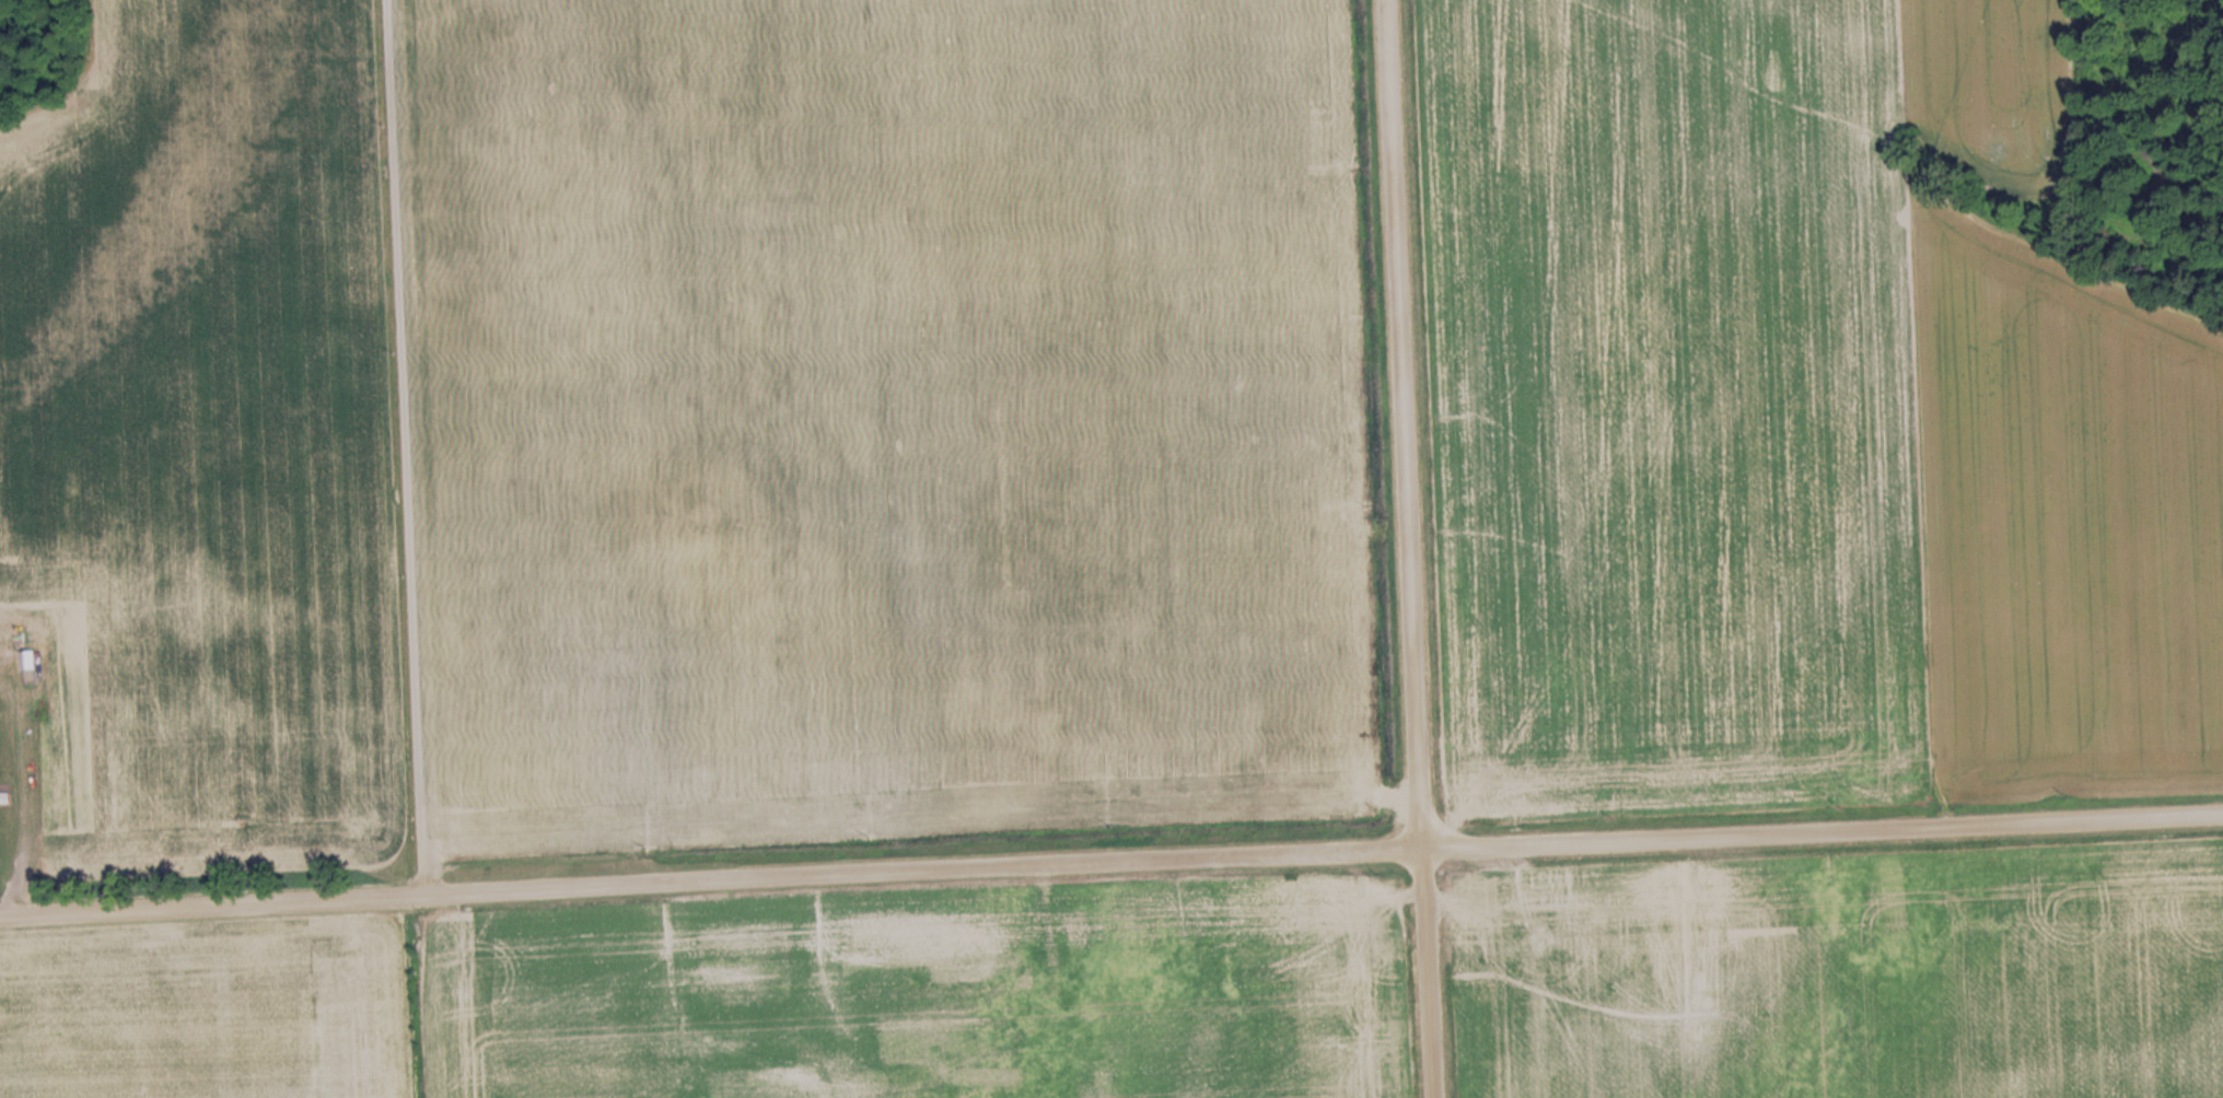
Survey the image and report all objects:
road: (408, 446)
road: (1409, 549)
road: (1110, 862)

